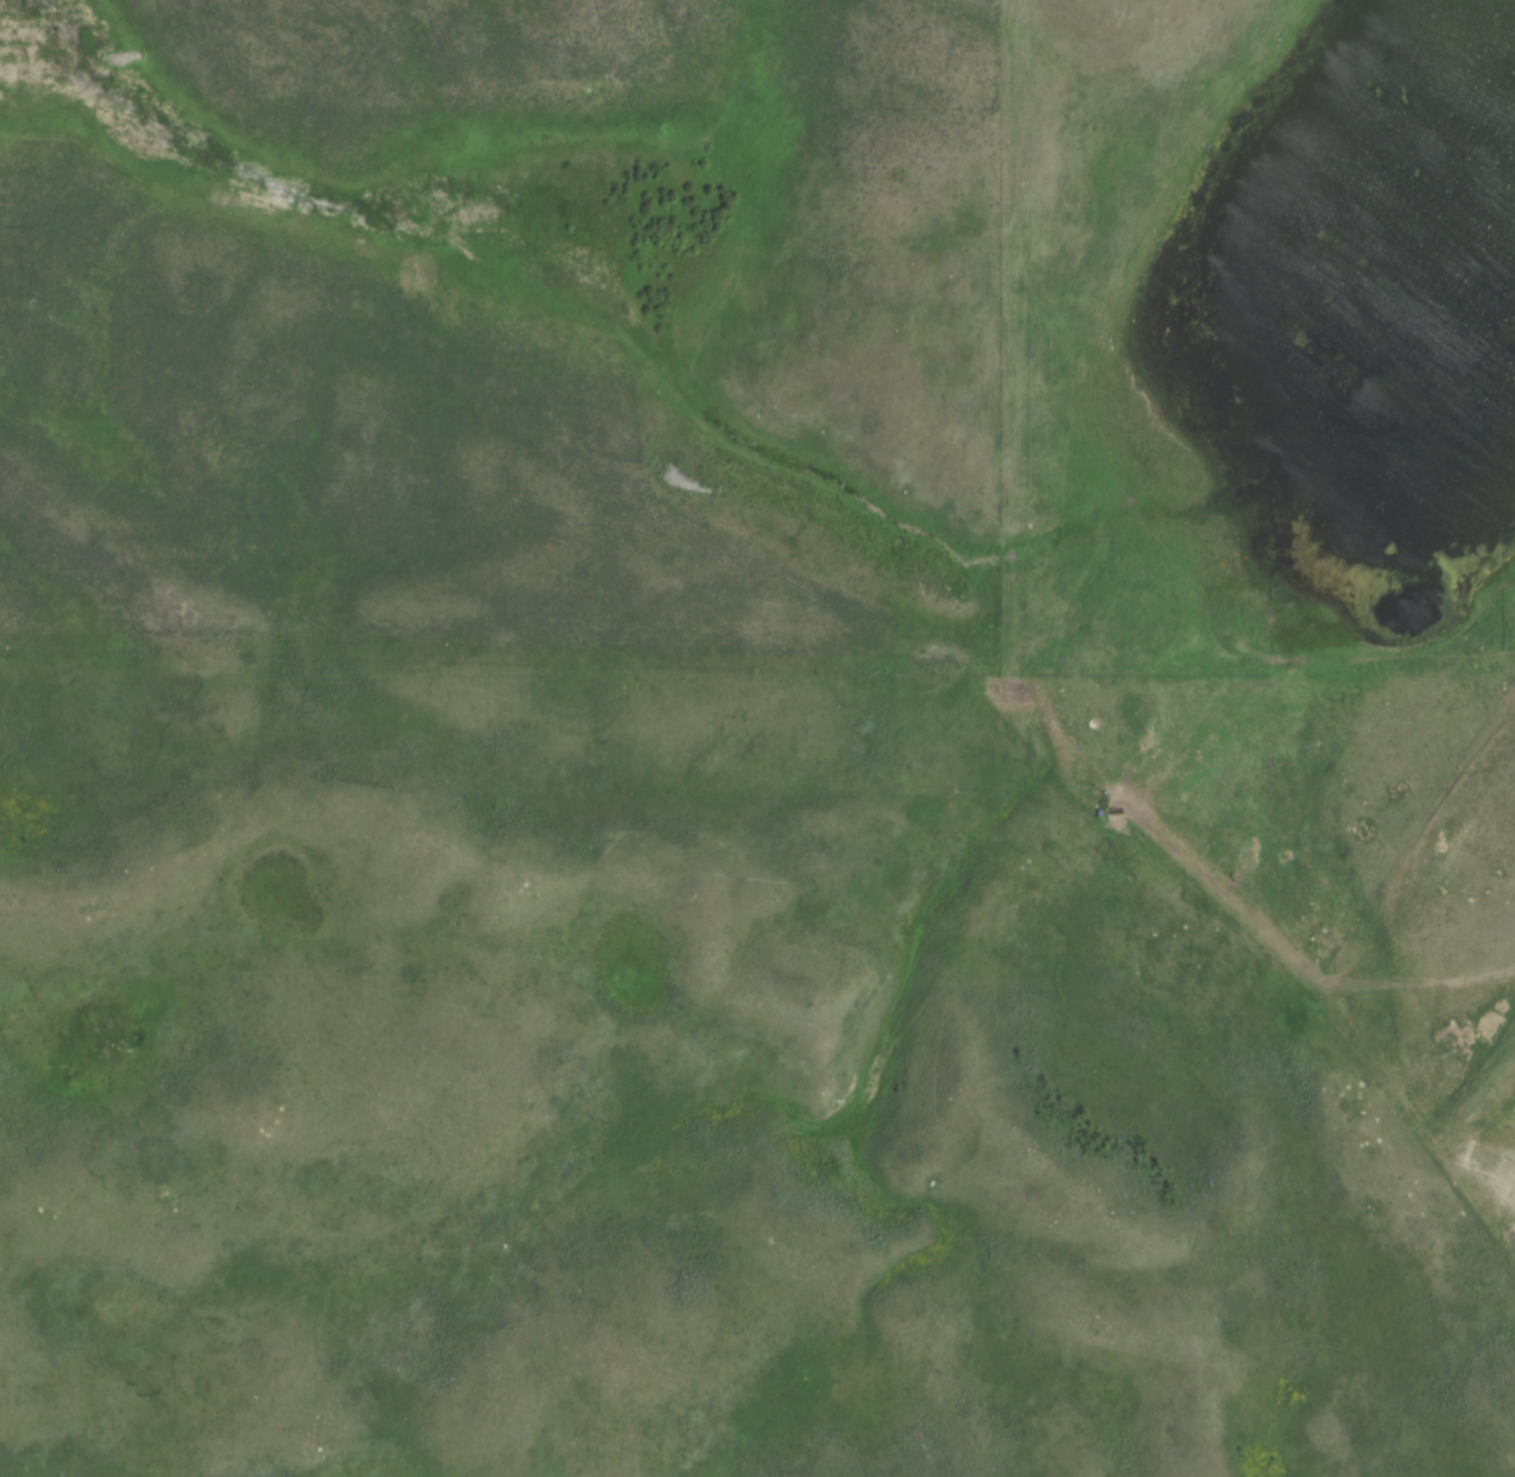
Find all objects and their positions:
quarry: (1484, 1138)

